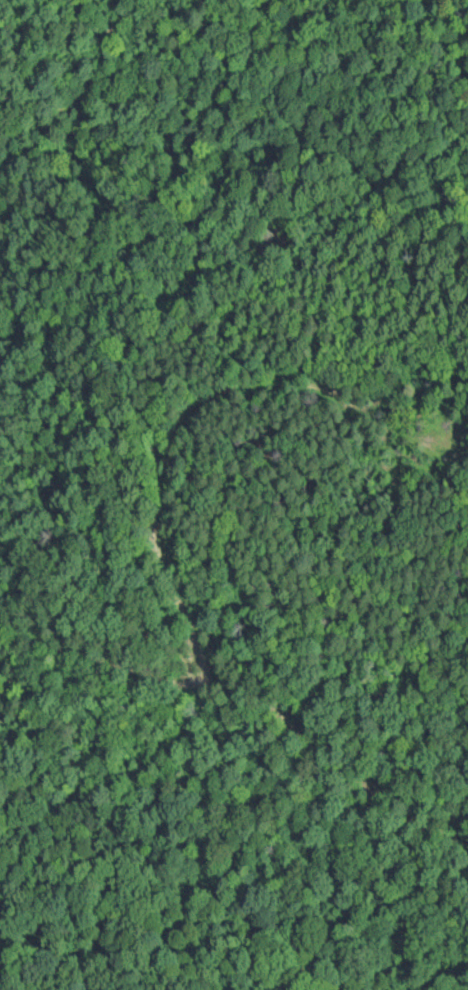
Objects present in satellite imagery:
road: (175, 451)
road: (30, 649)

